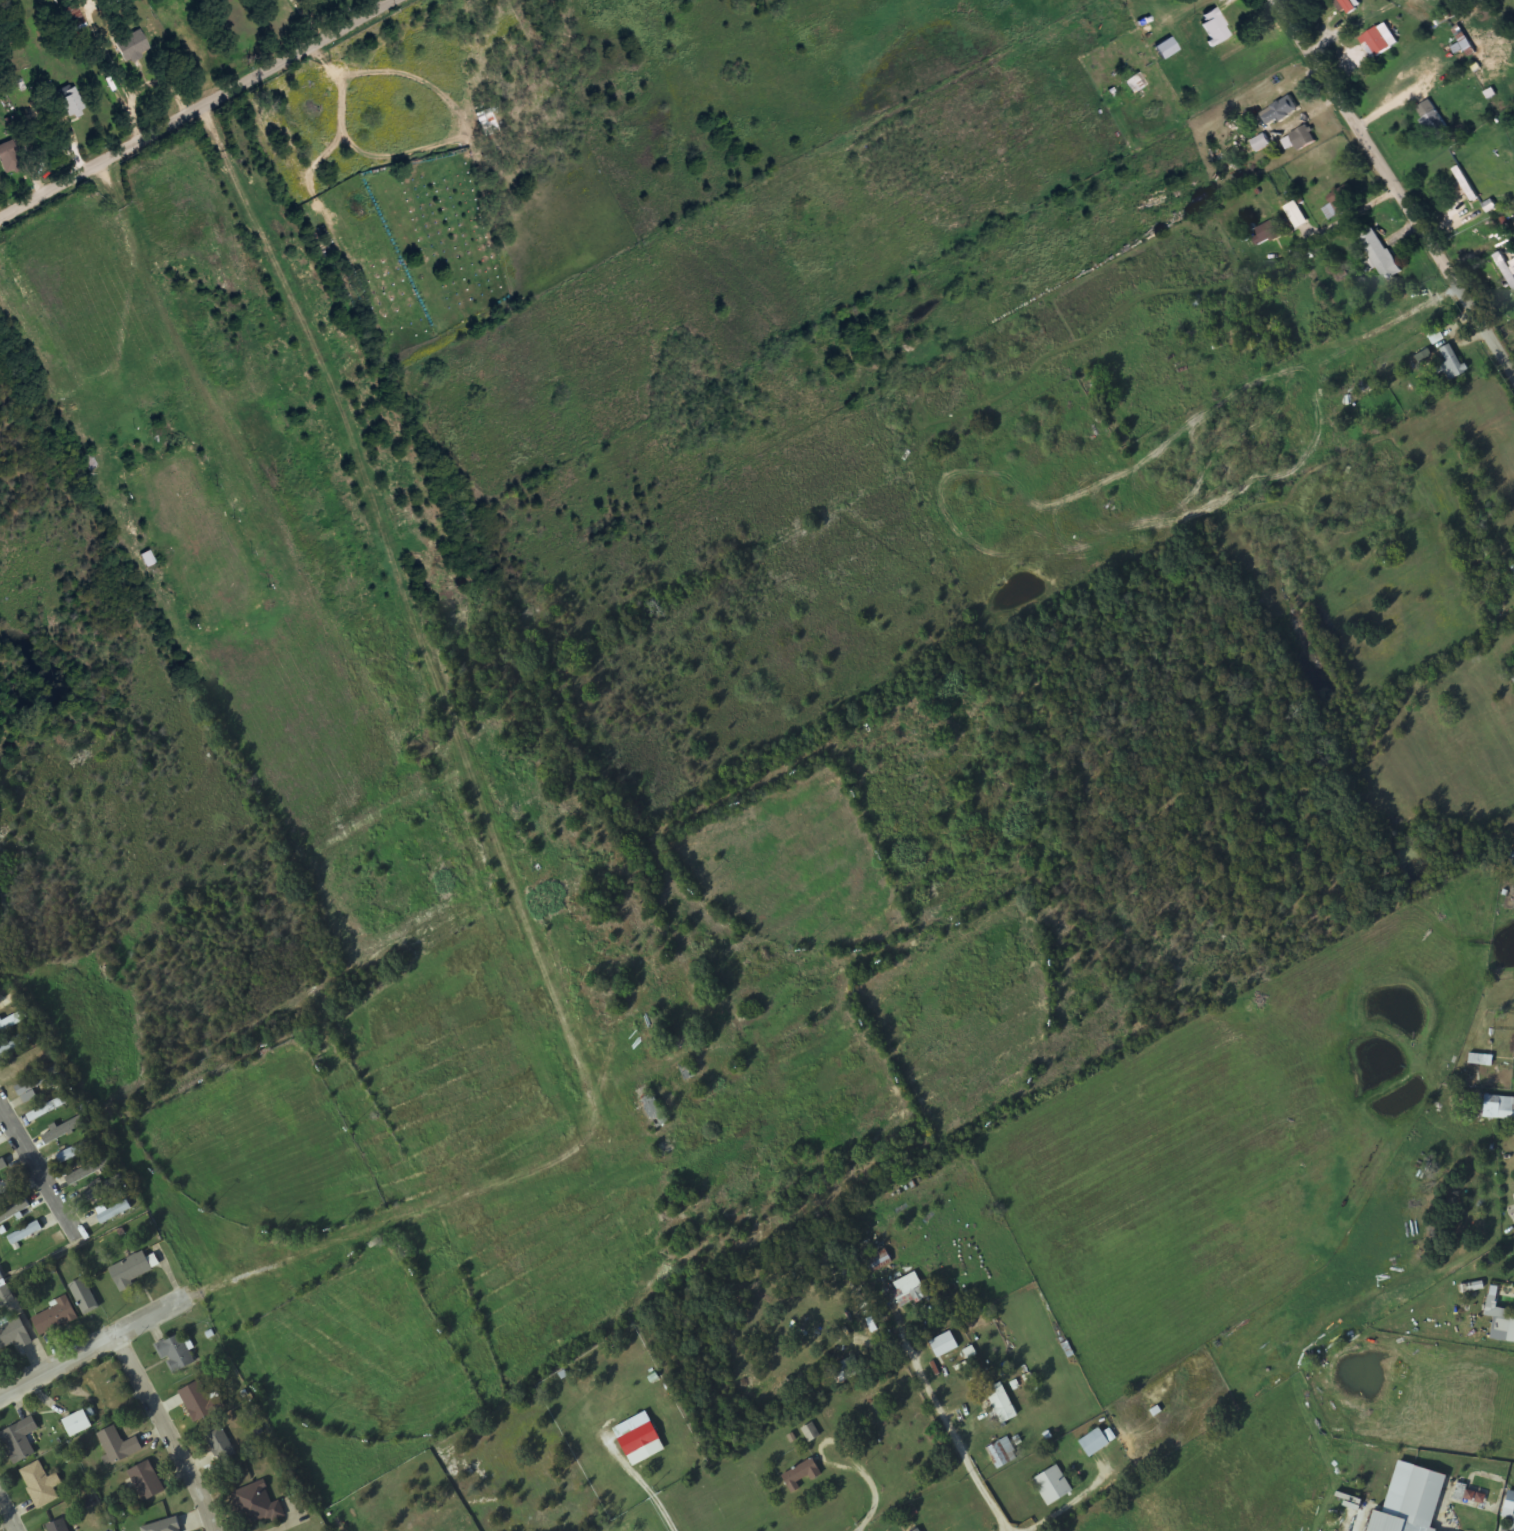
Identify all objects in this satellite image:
building: (1348, 6)
building: (1215, 27)
building: (1379, 42)
building: (133, 47)
building: (1167, 48)
building: (71, 101)
road: (195, 107)
building: (1281, 112)
building: (1434, 121)
building: (1302, 139)
building: (10, 157)
building: (1466, 184)
road: (1395, 186)
building: (1342, 203)
building: (1298, 215)
building: (1269, 232)
building: (1380, 255)
building: (1507, 267)
building: (1451, 364)
building: (90, 462)
building: (148, 558)
building: (1512, 674)
building: (1511, 860)
road: (524, 913)
building: (37, 1082)
building: (1498, 1108)
building: (50, 1109)
building: (655, 1112)
building: (67, 1129)
building: (3, 1165)
building: (86, 1168)
building: (8, 1188)
building: (102, 1189)
building: (15, 1213)
building: (114, 1213)
building: (25, 1234)
building: (878, 1262)
building: (131, 1272)
building: (1, 1278)
building: (1471, 1288)
building: (908, 1290)
building: (55, 1317)
building: (1500, 1319)
building: (14, 1335)
building: (175, 1354)
building: (848, 1370)
building: (197, 1402)
building: (1002, 1403)
building: (80, 1422)
road: (952, 1425)
road: (167, 1430)
building: (810, 1432)
building: (639, 1436)
building: (20, 1441)
building: (219, 1443)
building: (1094, 1443)
building: (118, 1447)
building: (1002, 1454)
building: (801, 1476)
building: (146, 1482)
building: (41, 1485)
building: (1053, 1486)
building: (1411, 1500)
building: (1510, 1503)
building: (257, 1505)
road: (8, 1509)
building: (58, 1526)
building: (1513, 1526)
building: (164, 1527)
building: (918, 1530)

